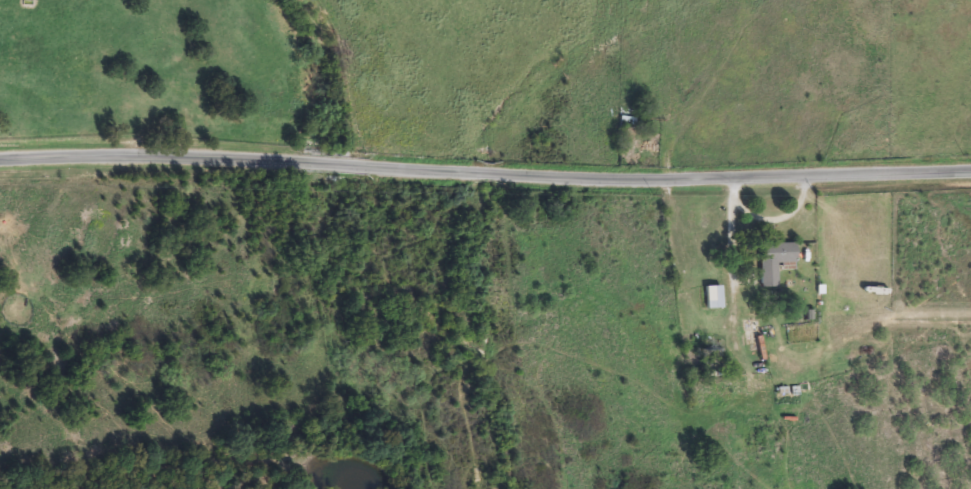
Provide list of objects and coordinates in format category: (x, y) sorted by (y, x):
building: (629, 124)
road: (485, 177)
road: (767, 219)
building: (773, 261)
building: (713, 297)
building: (711, 363)

